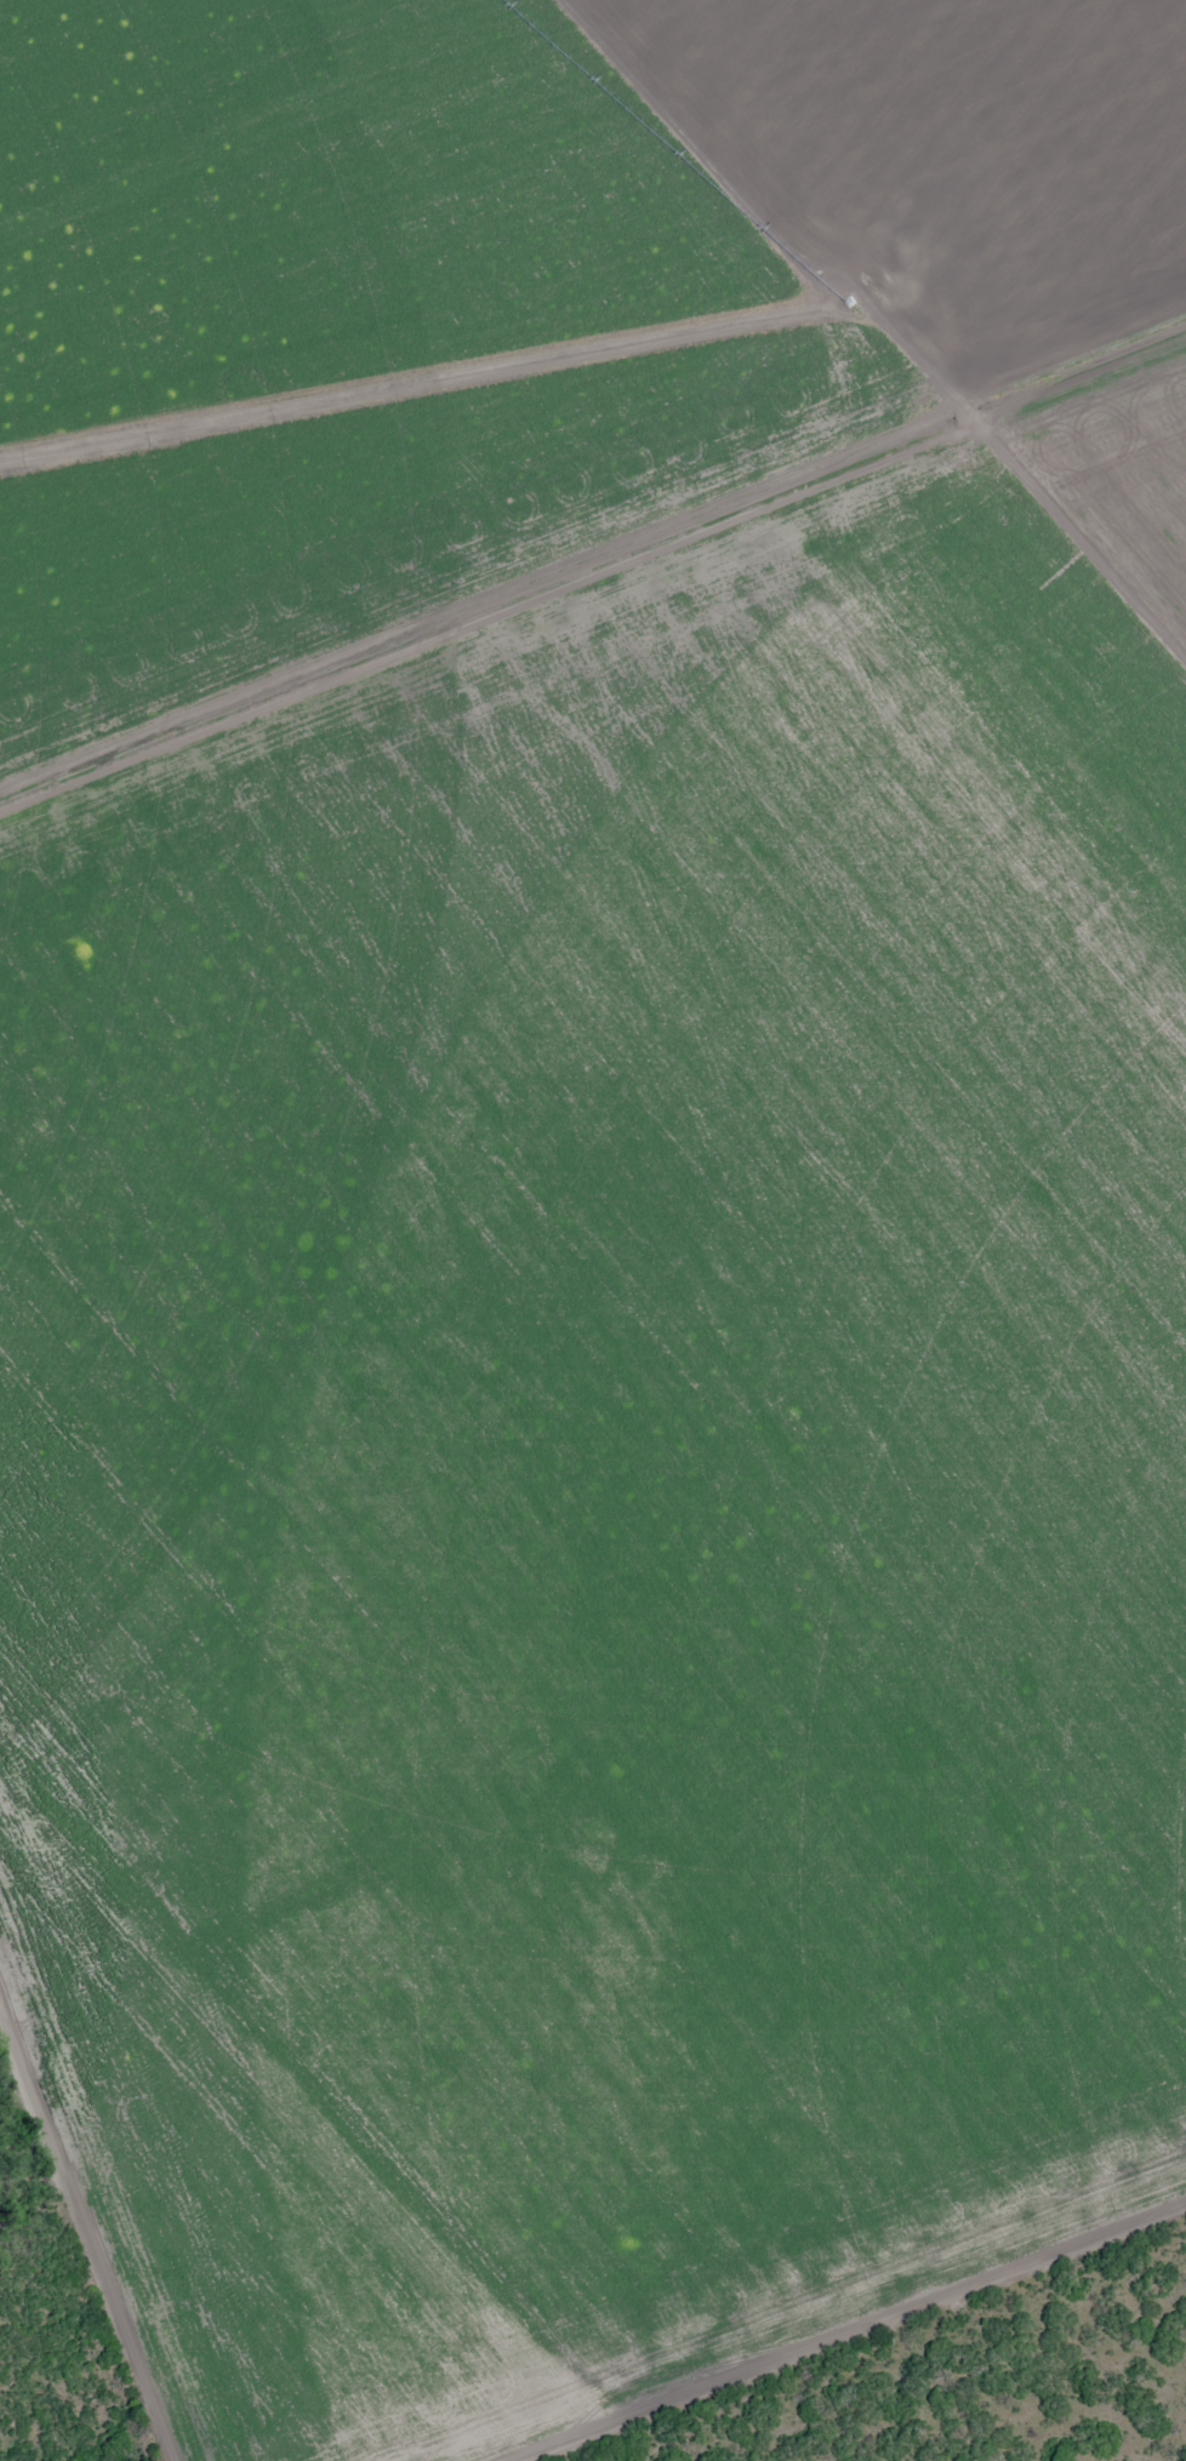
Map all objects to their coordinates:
road: (592, 567)
road: (86, 2212)
road: (845, 2329)

